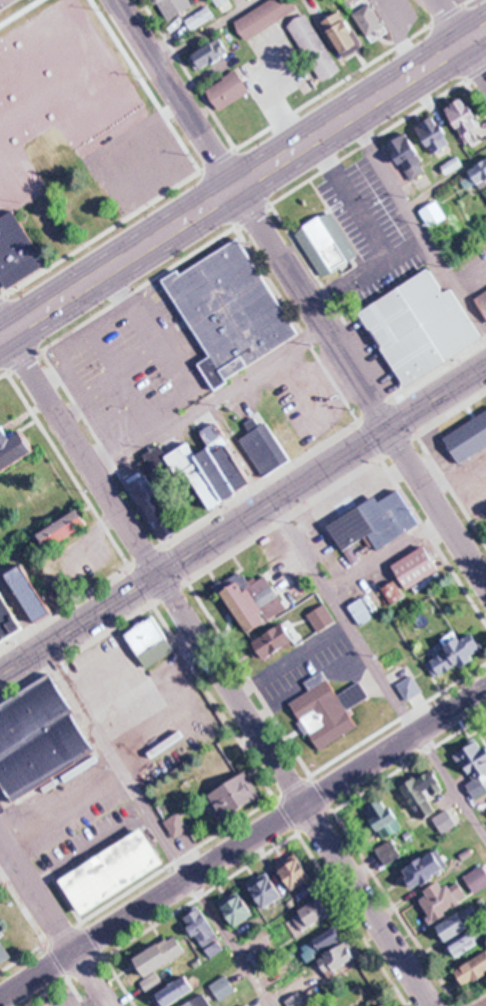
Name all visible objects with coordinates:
building: (220, 2)
building: (173, 6)
road: (17, 11)
building: (264, 16)
building: (199, 17)
building: (370, 19)
road: (205, 30)
road: (476, 32)
building: (341, 33)
road: (400, 36)
road: (462, 36)
road: (476, 40)
building: (313, 46)
building: (211, 53)
road: (188, 74)
building: (44, 75)
road: (146, 85)
building: (227, 90)
road: (176, 93)
road: (476, 95)
building: (463, 119)
building: (433, 134)
road: (234, 149)
building: (408, 157)
building: (1, 159)
building: (451, 165)
building: (476, 176)
road: (235, 188)
road: (351, 199)
building: (91, 213)
building: (433, 213)
road: (242, 220)
road: (418, 227)
parking lot: (370, 229)
building: (327, 247)
building: (19, 252)
road: (307, 262)
road: (368, 272)
road: (4, 287)
building: (482, 300)
building: (235, 315)
building: (414, 328)
road: (2, 330)
road: (2, 334)
road: (2, 335)
road: (163, 350)
road: (68, 365)
parking lot: (132, 366)
road: (52, 374)
road: (124, 381)
road: (111, 384)
road: (361, 385)
road: (301, 388)
parking lot: (305, 396)
parking lot: (485, 396)
road: (210, 402)
road: (359, 423)
building: (468, 438)
building: (262, 445)
building: (12, 448)
building: (228, 459)
road: (439, 472)
building: (195, 473)
building: (216, 473)
parking lot: (462, 474)
road: (242, 493)
building: (154, 503)
road: (243, 521)
building: (374, 524)
building: (67, 532)
road: (242, 544)
road: (387, 558)
road: (155, 569)
building: (416, 569)
building: (393, 592)
building: (34, 593)
building: (250, 600)
building: (365, 608)
building: (321, 618)
building: (7, 619)
building: (152, 638)
building: (274, 641)
building: (460, 651)
road: (291, 660)
parking lot: (309, 666)
road: (99, 671)
road: (244, 671)
road: (376, 671)
road: (206, 689)
parking lot: (149, 708)
building: (327, 709)
road: (190, 711)
building: (41, 741)
road: (395, 747)
building: (474, 759)
road: (134, 789)
building: (421, 791)
building: (235, 795)
parking lot: (68, 804)
road: (65, 810)
road: (13, 813)
road: (243, 816)
building: (385, 818)
building: (444, 821)
building: (177, 825)
road: (0, 837)
parking lot: (95, 842)
road: (90, 849)
building: (388, 851)
road: (254, 858)
building: (425, 867)
building: (118, 870)
building: (294, 871)
building: (477, 878)
building: (266, 891)
building: (441, 899)
road: (152, 902)
road: (44, 904)
road: (368, 905)
building: (235, 908)
building: (322, 913)
building: (311, 914)
building: (457, 922)
building: (204, 930)
building: (468, 937)
road: (42, 938)
road: (93, 939)
building: (320, 943)
building: (5, 950)
building: (337, 956)
building: (159, 959)
building: (472, 969)
building: (223, 987)
road: (98, 990)
building: (173, 992)
building: (296, 1000)
parking lot: (65, 1001)
road: (96, 1002)
building: (190, 1003)
building: (197, 1003)
building: (385, 1003)
building: (243, 1005)

